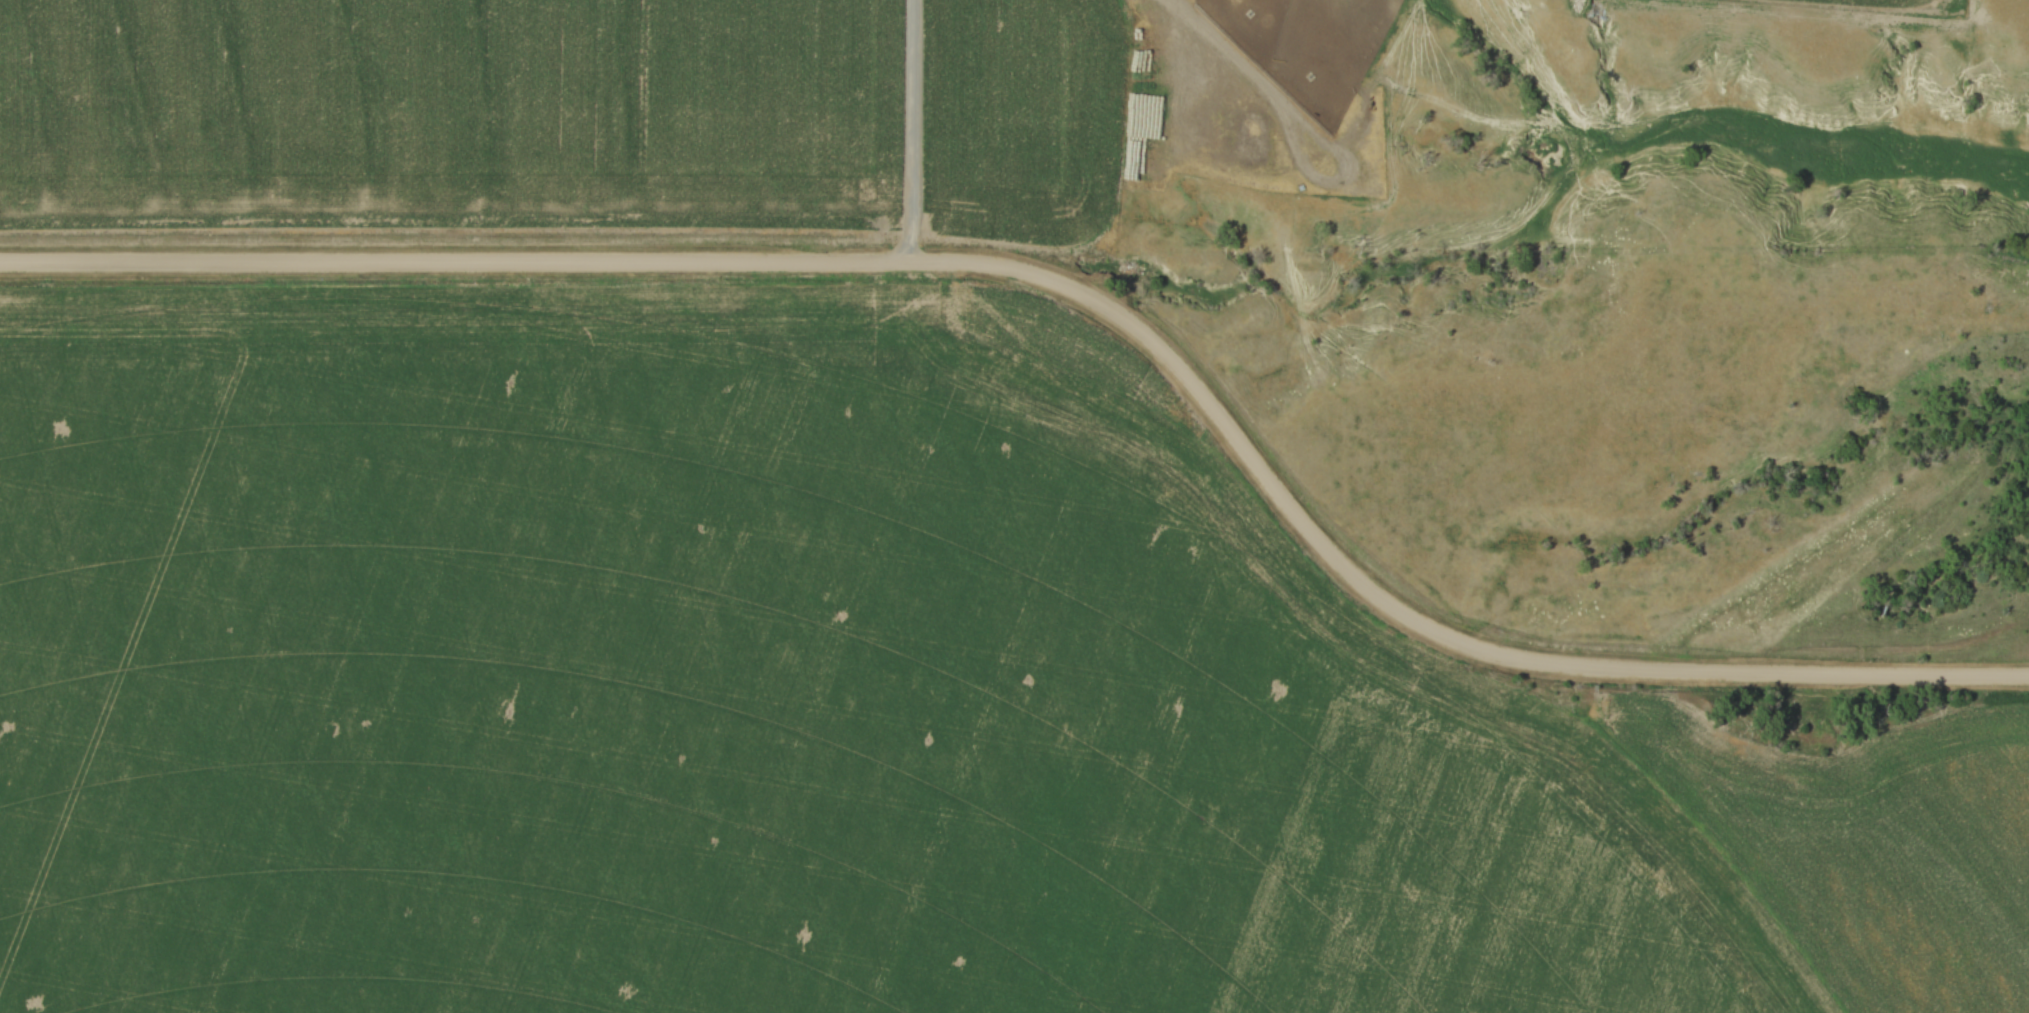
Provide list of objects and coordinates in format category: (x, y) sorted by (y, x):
crop: (447, 108)
road: (915, 130)
road: (1085, 292)

